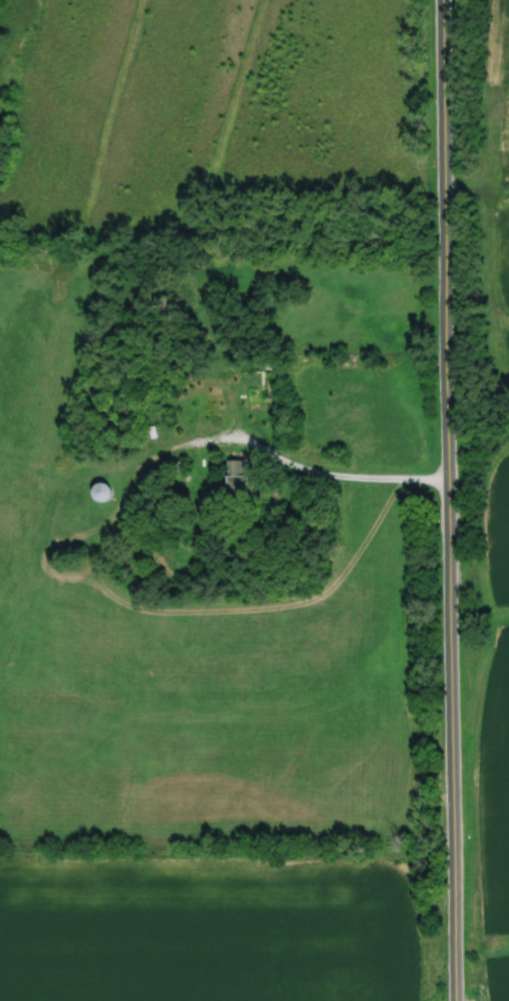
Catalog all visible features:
building: (220, 284)
building: (255, 379)
building: (194, 409)
road: (326, 477)
building: (236, 480)
building: (104, 492)
road: (449, 500)

